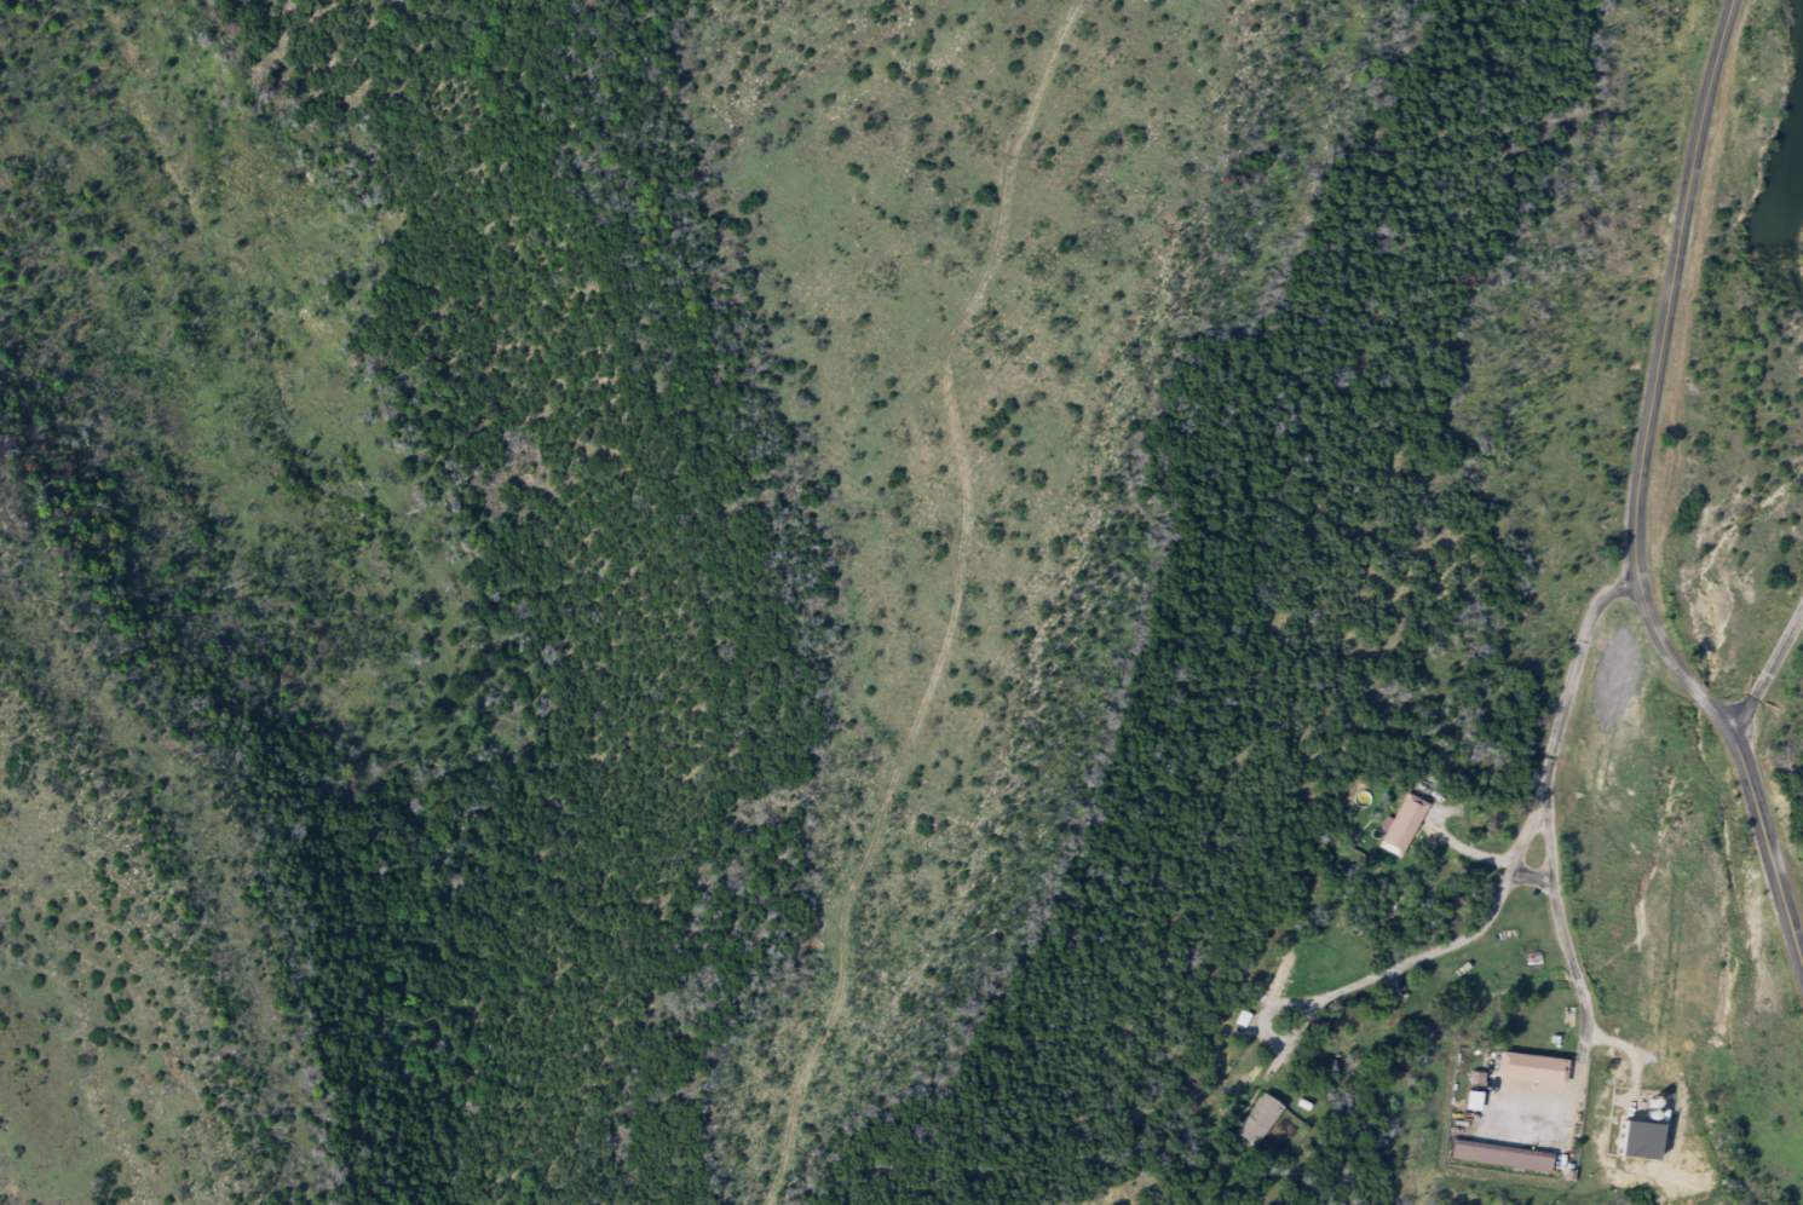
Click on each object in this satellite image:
road: (1635, 506)
park: (899, 602)
road: (1769, 671)
building: (1401, 828)
road: (1572, 947)
road: (1419, 951)
building: (1531, 1071)
building: (1257, 1122)
building: (1499, 1158)

